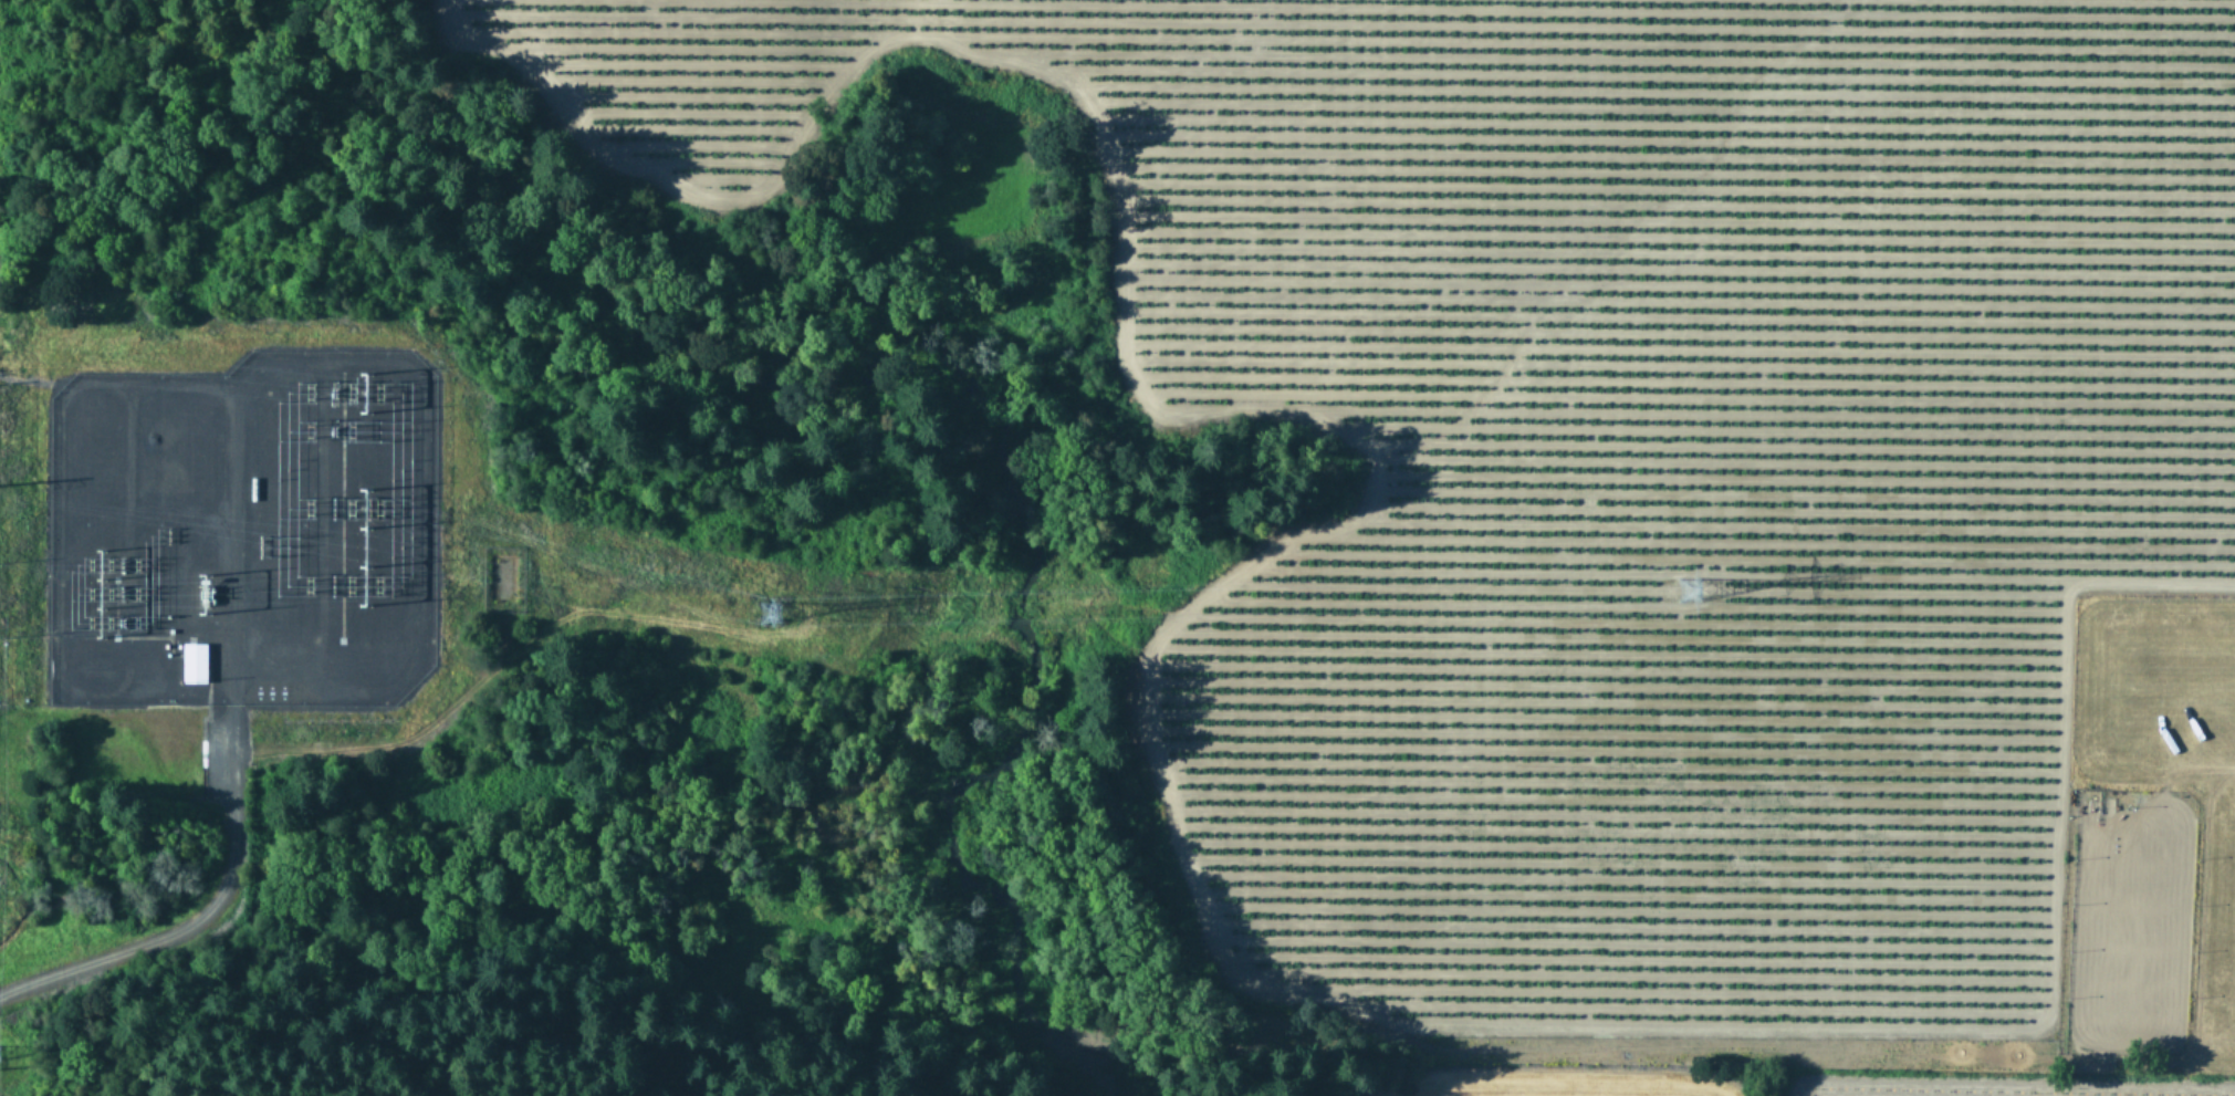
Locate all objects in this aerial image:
power substation: (241, 529)
power tower: (362, 545)
crop: (1772, 559)
power tower: (1686, 585)
power tower: (761, 612)
building: (194, 660)
crop: (4, 839)
road: (197, 910)

